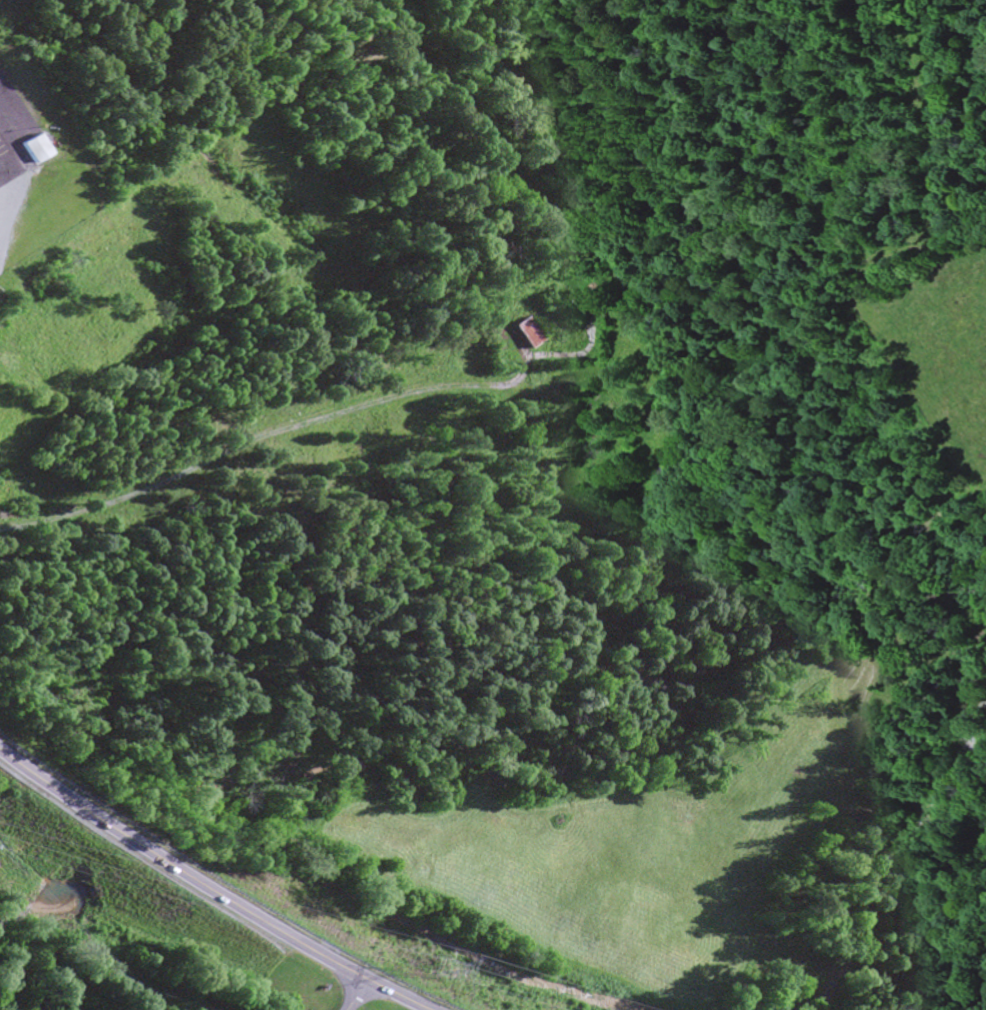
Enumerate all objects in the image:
road: (0, 150)
building: (30, 150)
building: (524, 334)
road: (206, 892)
power tower: (436, 969)
road: (353, 994)

